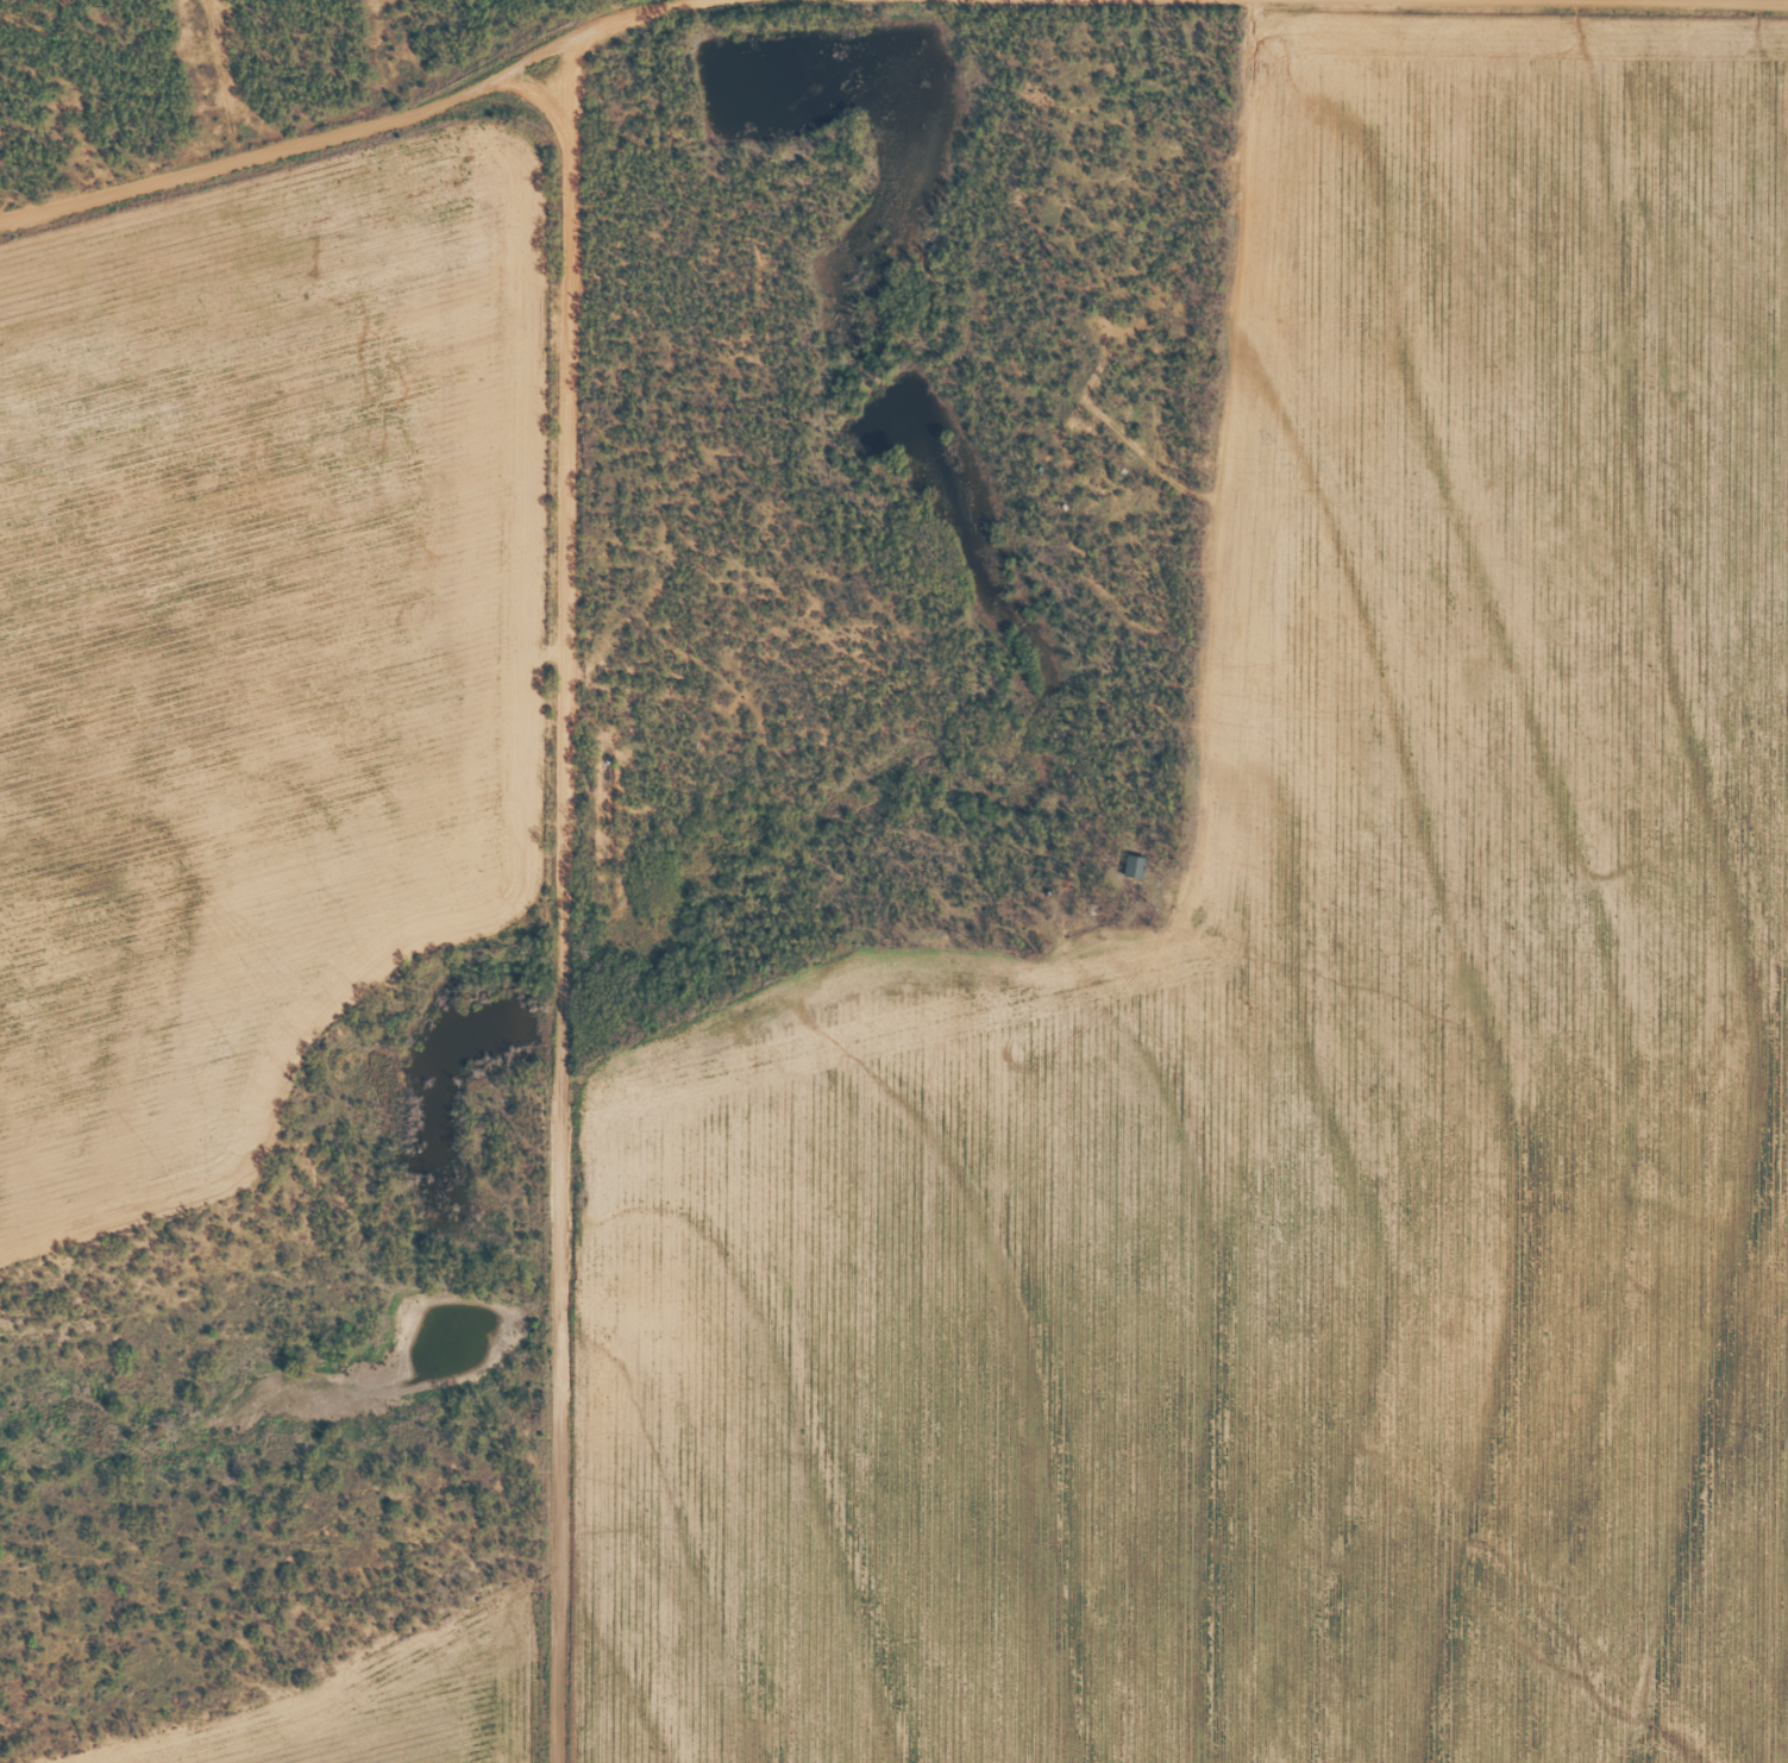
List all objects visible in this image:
road: (601, 33)
road: (287, 140)
road: (566, 924)

